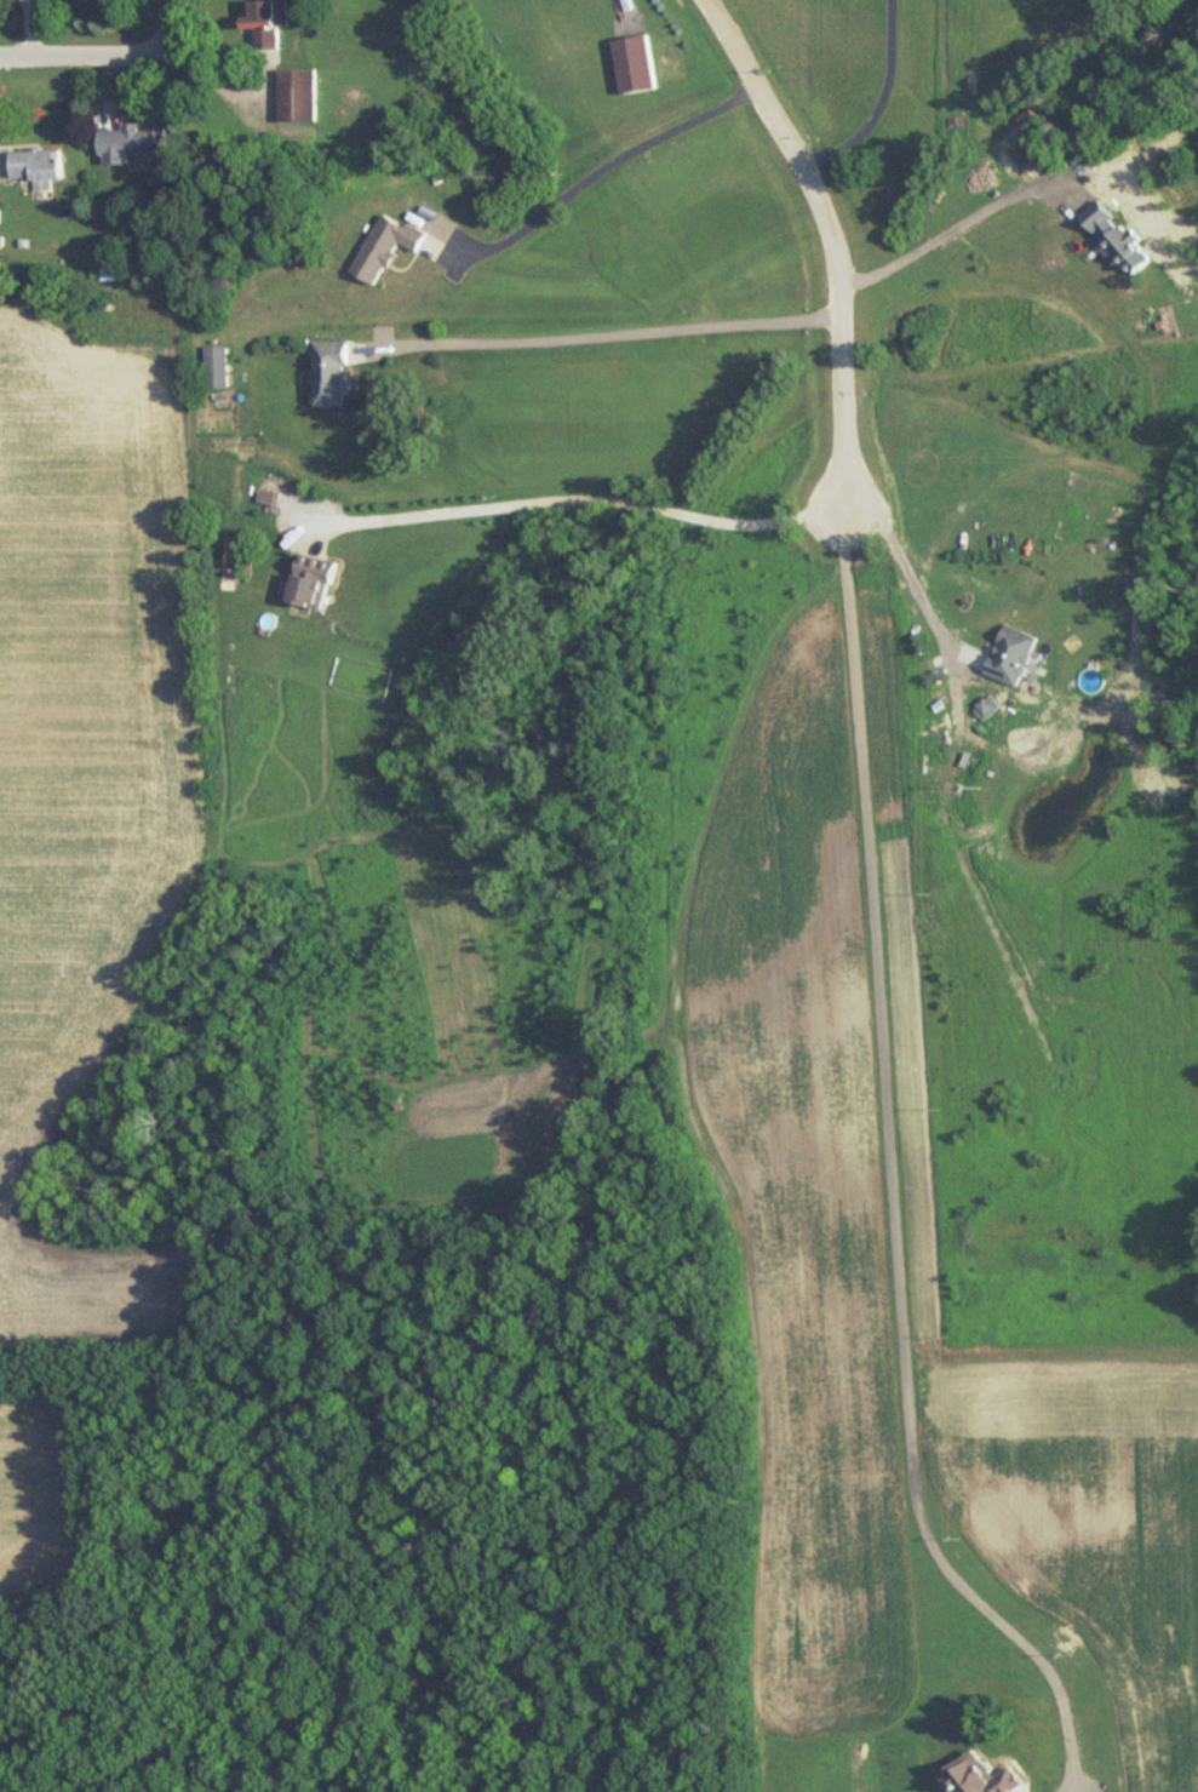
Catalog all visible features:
road: (176, 7)
building: (271, 29)
road: (94, 50)
building: (637, 67)
building: (305, 98)
road: (879, 102)
building: (137, 145)
building: (42, 168)
road: (598, 171)
road: (961, 229)
road: (833, 241)
building: (1128, 247)
building: (389, 248)
road: (602, 337)
building: (218, 368)
building: (333, 373)
building: (268, 498)
road: (580, 502)
road: (908, 573)
building: (316, 582)
building: (1014, 657)
road: (888, 1184)

